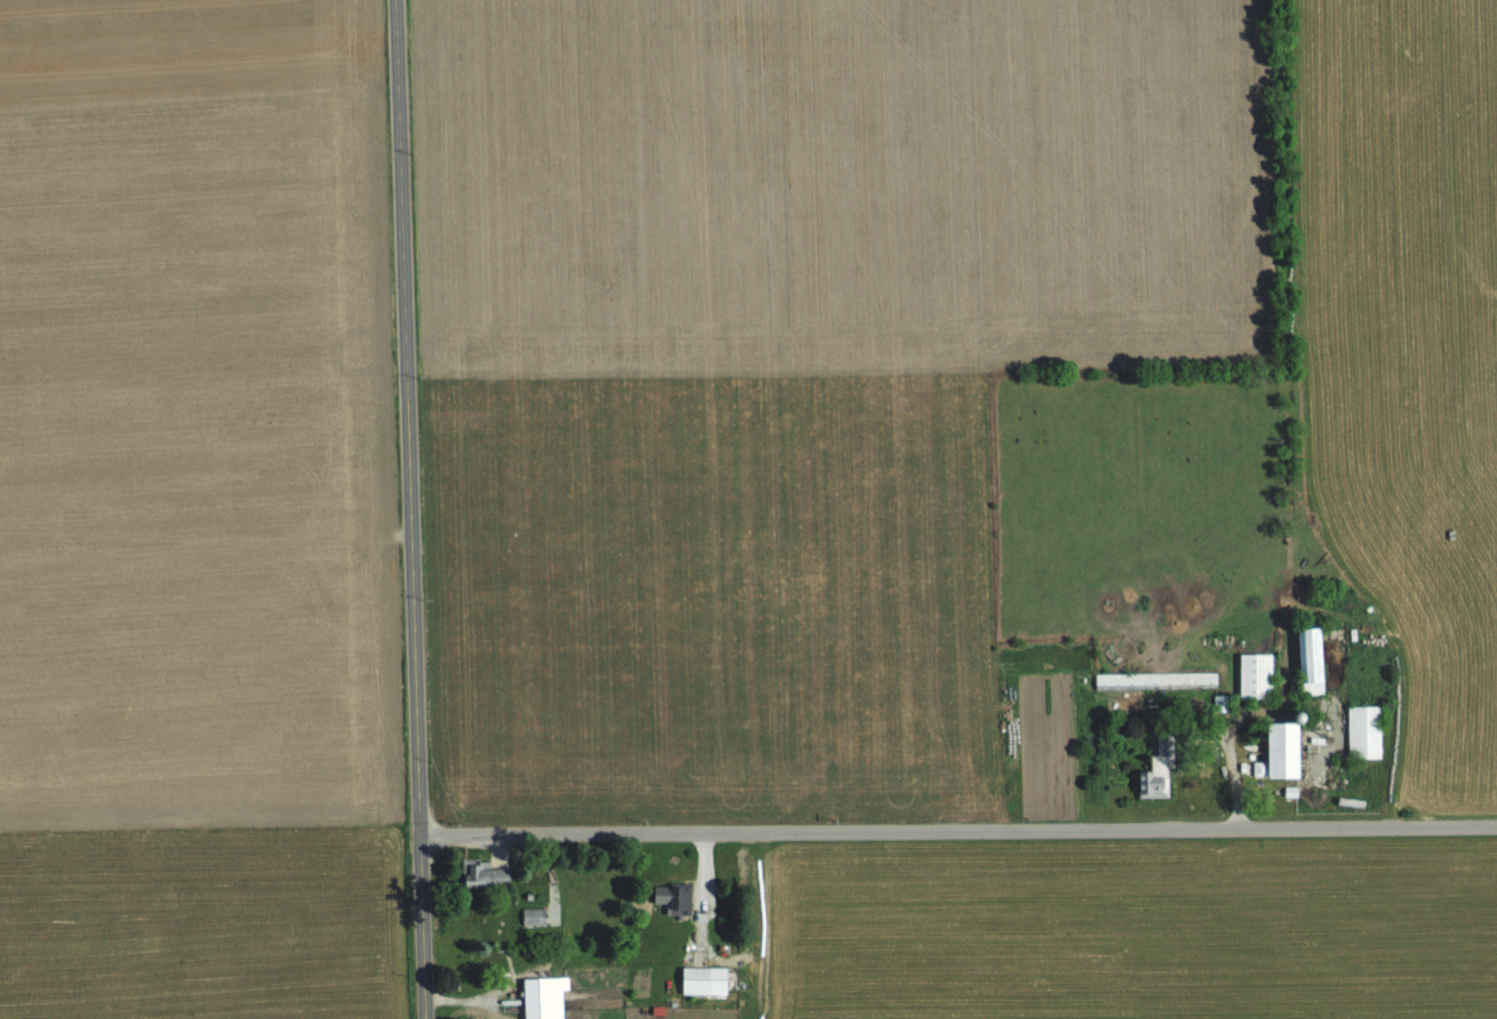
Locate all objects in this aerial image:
road: (409, 509)
building: (1314, 660)
building: (1258, 675)
building: (1158, 680)
building: (1366, 731)
building: (1287, 749)
building: (1157, 778)
road: (957, 829)
building: (486, 874)
building: (675, 897)
building: (535, 916)
building: (706, 980)
building: (540, 998)

